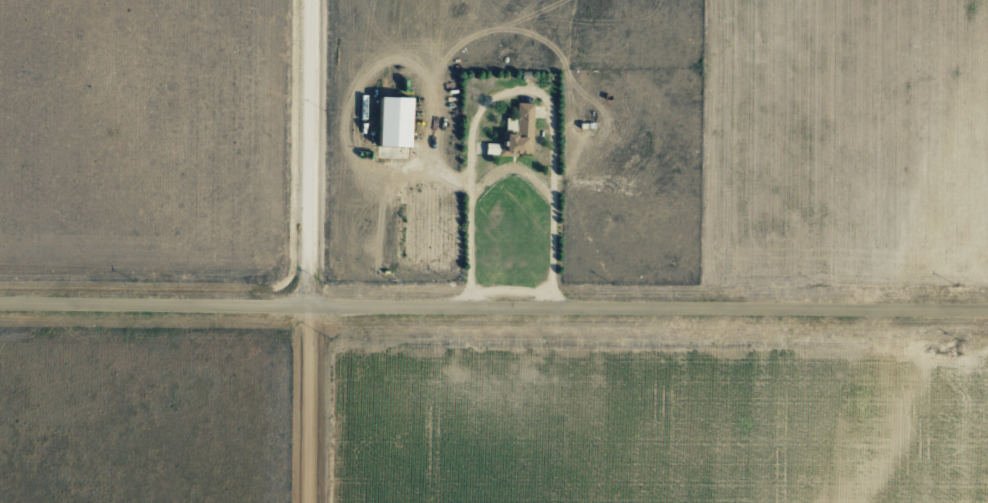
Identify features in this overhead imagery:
road: (516, 94)
road: (512, 172)
road: (318, 252)
road: (493, 310)

